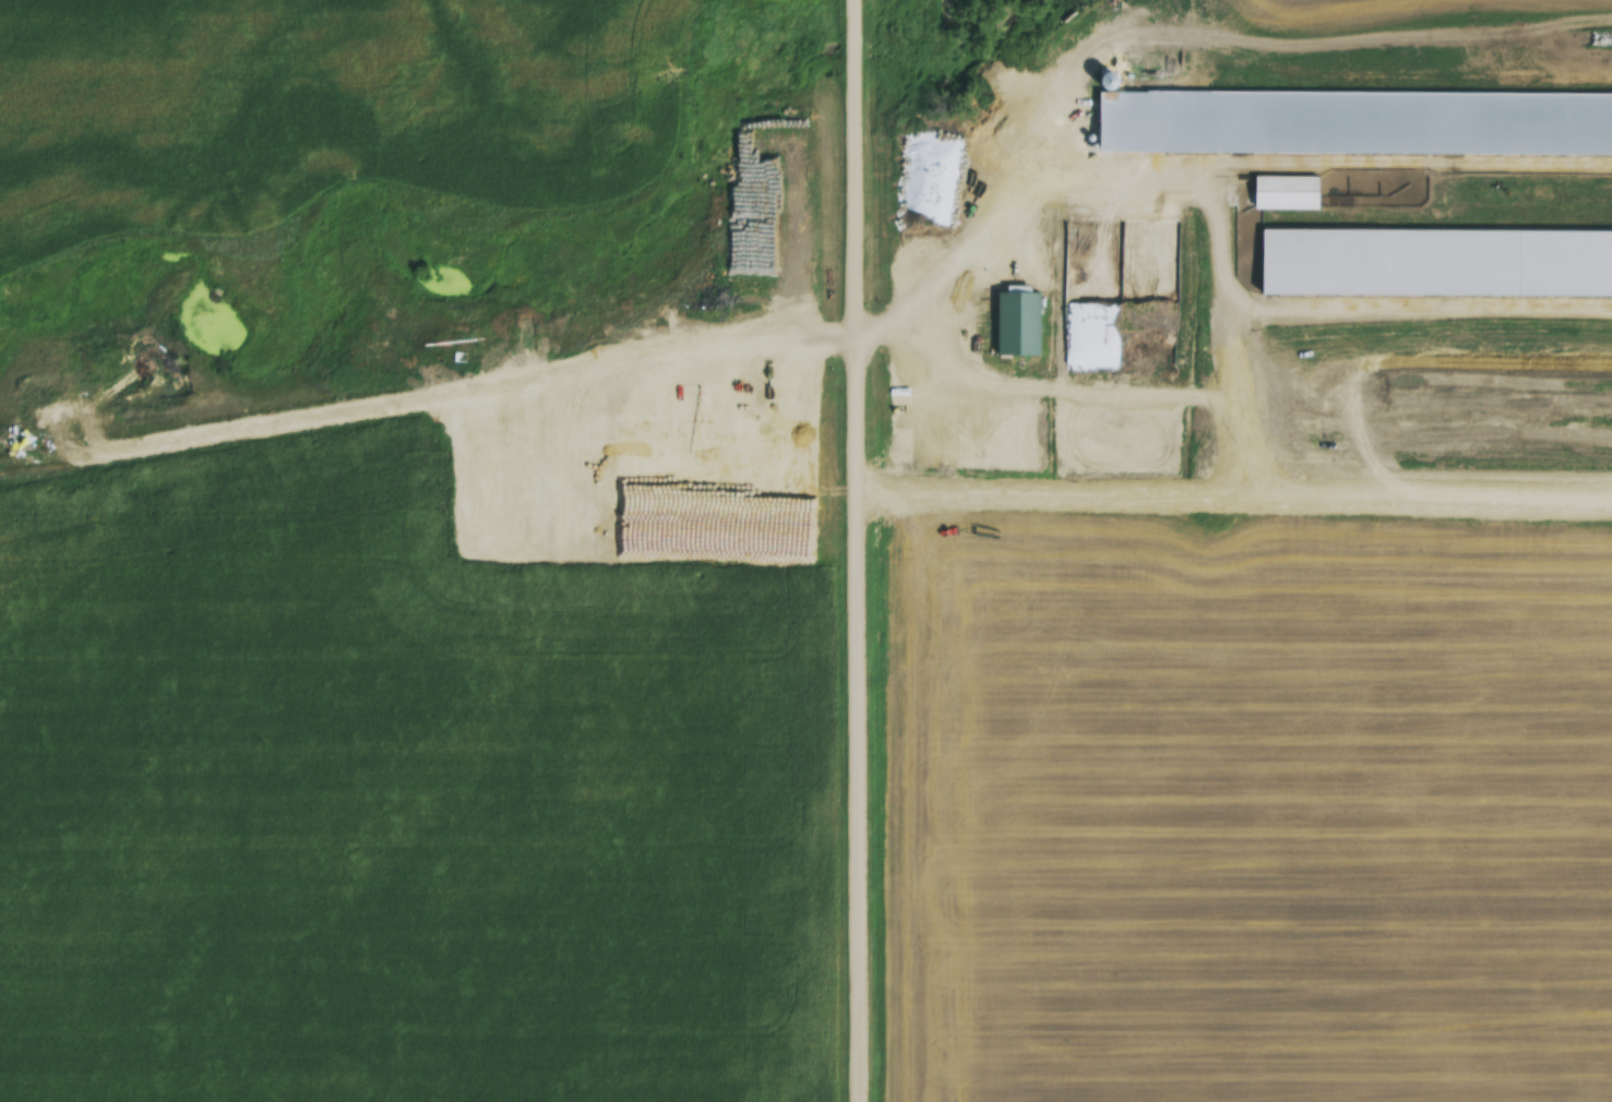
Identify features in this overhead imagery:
building: (1356, 128)
building: (1593, 264)
building: (1349, 266)
building: (1018, 328)
road: (429, 396)
road: (860, 550)

